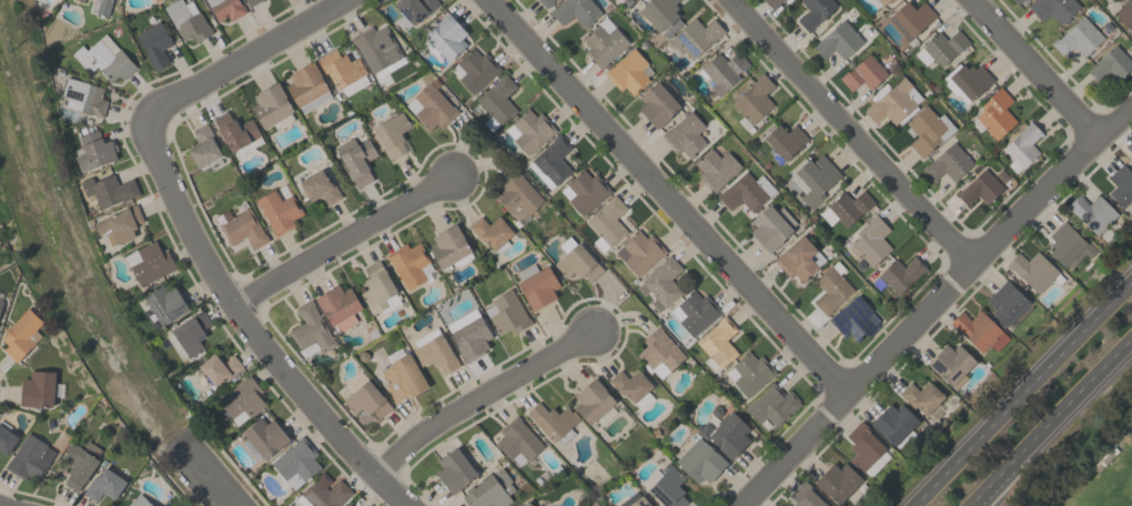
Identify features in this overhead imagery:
building: (82, 0)
building: (627, 0)
building: (882, 1)
building: (1015, 1)
building: (251, 2)
building: (545, 2)
building: (770, 2)
building: (103, 7)
building: (225, 8)
building: (1052, 9)
building: (412, 11)
building: (575, 11)
building: (813, 11)
building: (658, 12)
building: (1124, 13)
building: (910, 19)
building: (186, 21)
building: (696, 37)
building: (445, 38)
building: (1077, 38)
building: (838, 41)
building: (603, 42)
building: (153, 44)
building: (941, 48)
building: (377, 49)
building: (103, 58)
road: (246, 60)
building: (1110, 63)
road: (1038, 68)
building: (474, 69)
building: (343, 71)
building: (722, 71)
building: (628, 72)
building: (863, 72)
building: (968, 82)
building: (306, 87)
building: (83, 97)
building: (497, 101)
building: (752, 102)
building: (893, 103)
building: (656, 104)
building: (270, 105)
building: (432, 107)
building: (995, 113)
building: (528, 130)
building: (927, 130)
road: (855, 132)
building: (237, 134)
building: (392, 134)
building: (685, 134)
building: (785, 140)
building: (203, 146)
building: (1022, 146)
building: (1129, 146)
building: (94, 151)
building: (356, 159)
building: (550, 161)
building: (947, 163)
building: (715, 168)
building: (812, 178)
building: (1121, 185)
building: (981, 186)
building: (319, 188)
building: (108, 190)
building: (584, 191)
building: (747, 192)
building: (517, 195)
road: (671, 196)
building: (845, 208)
building: (277, 211)
building: (1091, 212)
building: (607, 223)
building: (119, 224)
building: (241, 226)
building: (771, 226)
building: (491, 231)
building: (871, 240)
road: (343, 241)
building: (1068, 244)
building: (449, 247)
building: (639, 252)
building: (799, 259)
building: (576, 261)
building: (149, 262)
building: (411, 264)
building: (1032, 270)
building: (900, 273)
building: (661, 282)
building: (537, 285)
building: (831, 287)
building: (377, 289)
building: (0, 302)
building: (165, 303)
building: (1005, 303)
road: (936, 305)
building: (338, 306)
building: (696, 312)
building: (506, 313)
building: (853, 318)
building: (311, 328)
building: (979, 331)
road: (249, 332)
building: (20, 334)
building: (188, 336)
building: (471, 338)
building: (718, 342)
building: (659, 352)
building: (435, 354)
building: (951, 364)
building: (219, 368)
building: (750, 372)
building: (402, 377)
building: (633, 387)
building: (37, 389)
road: (1021, 393)
building: (364, 396)
road: (481, 397)
building: (920, 397)
building: (241, 401)
building: (594, 403)
building: (769, 404)
road: (1047, 418)
building: (553, 422)
building: (893, 422)
building: (725, 434)
building: (262, 438)
building: (7, 439)
building: (516, 439)
building: (863, 446)
building: (30, 458)
building: (699, 461)
building: (80, 463)
building: (295, 463)
building: (454, 470)
road: (208, 477)
building: (837, 482)
building: (103, 485)
building: (668, 487)
road: (993, 487)
building: (489, 490)
building: (322, 493)
building: (805, 496)
building: (139, 502)
building: (639, 502)
building: (526, 504)
building: (346, 505)
building: (347, 505)

